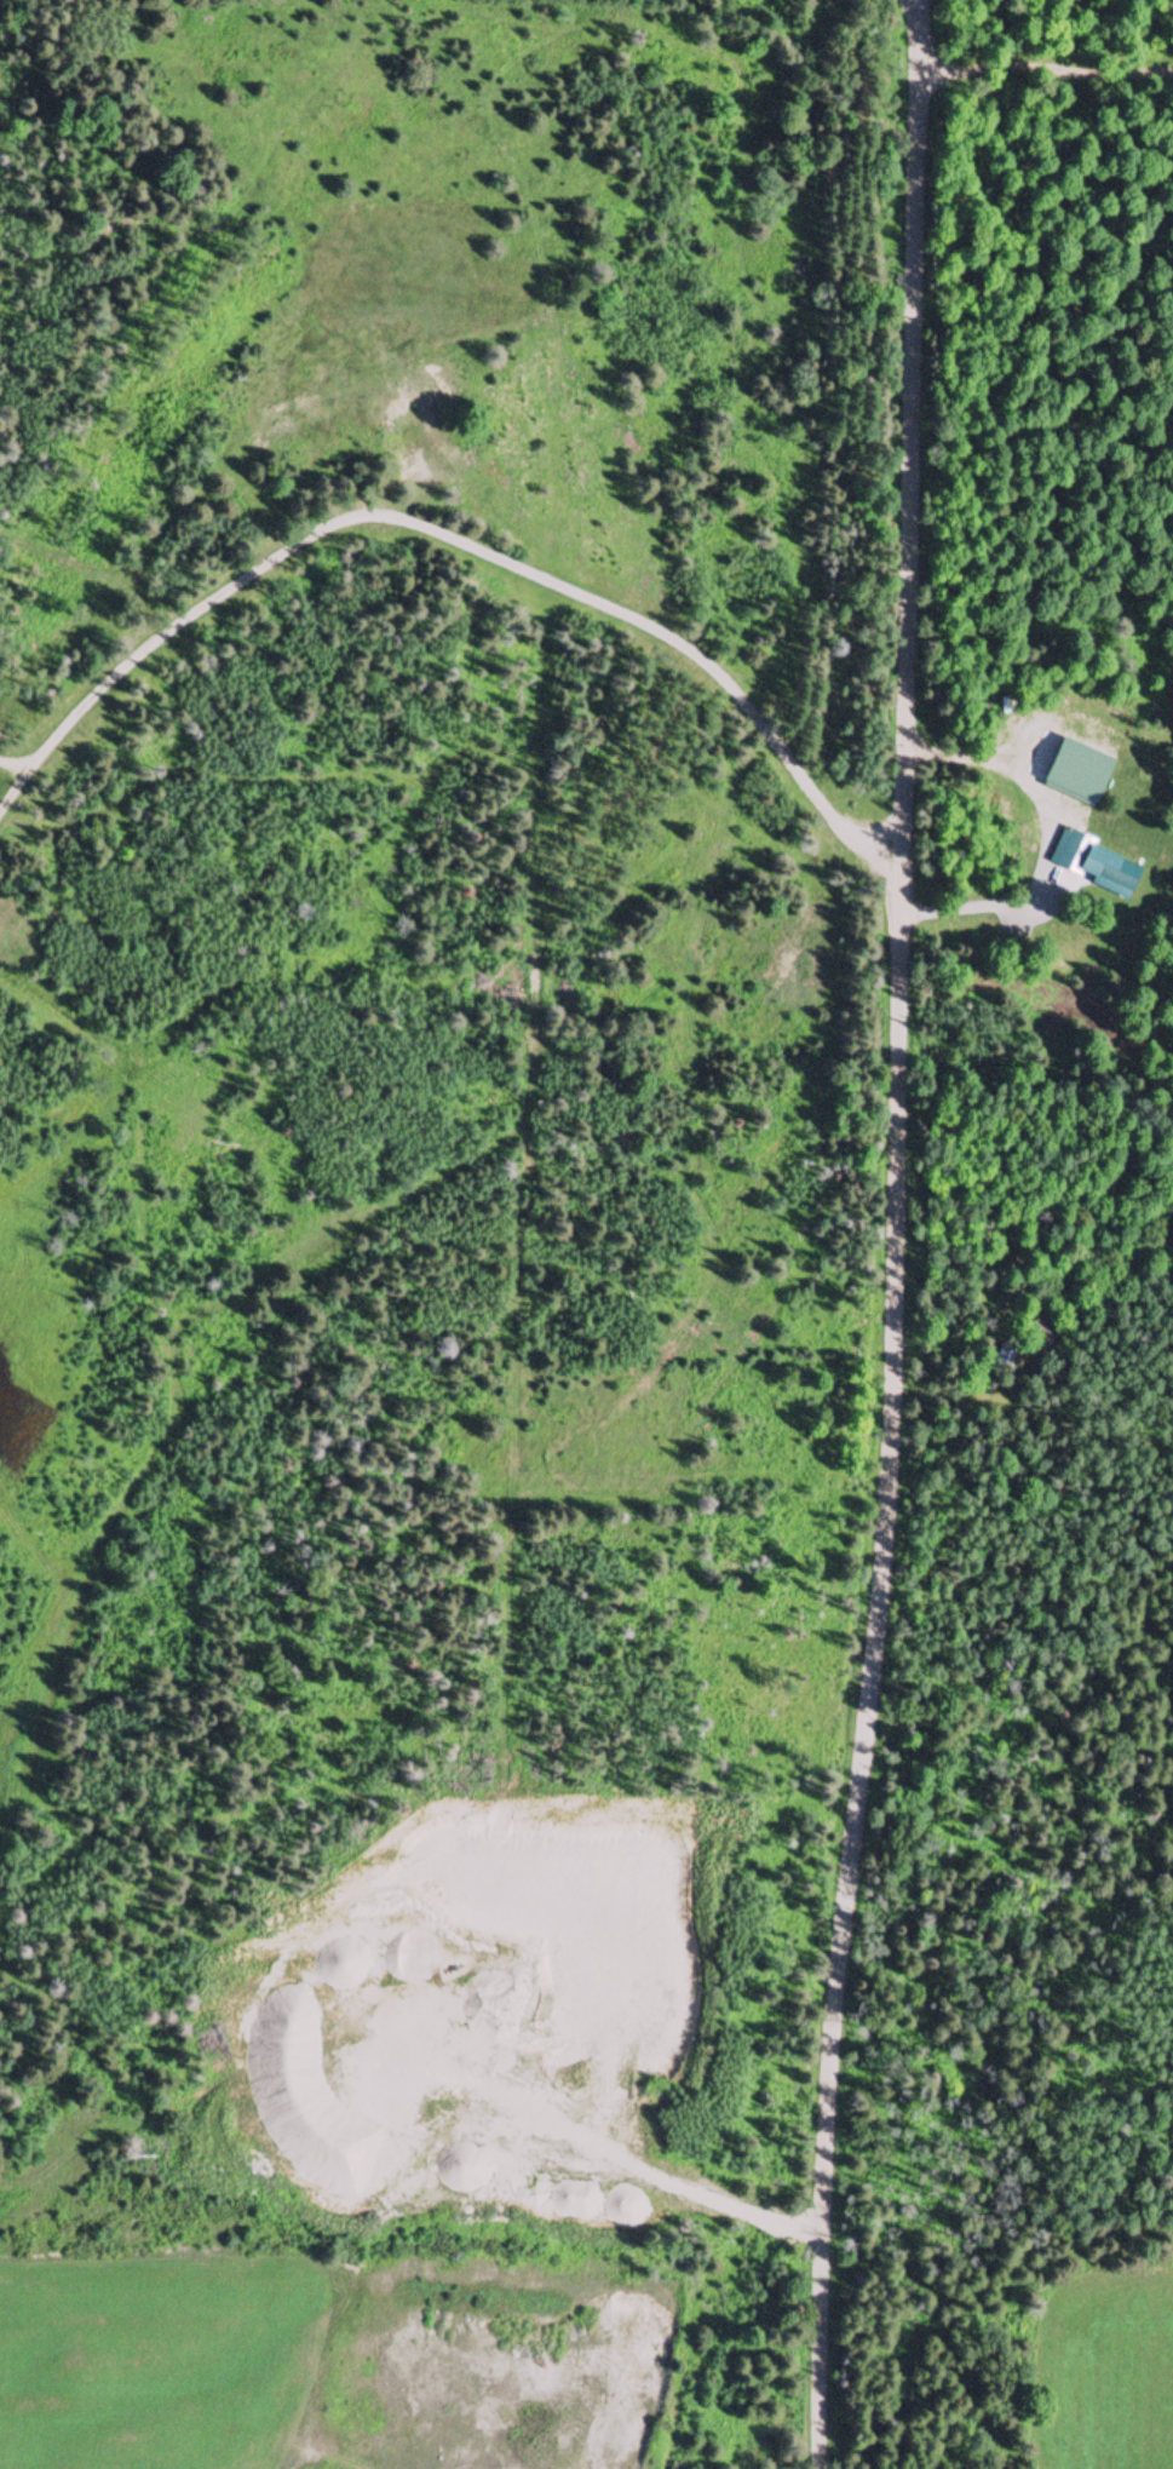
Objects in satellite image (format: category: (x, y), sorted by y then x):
road: (459, 539)
building: (1093, 866)
road: (895, 1235)
building: (1046, 1332)

